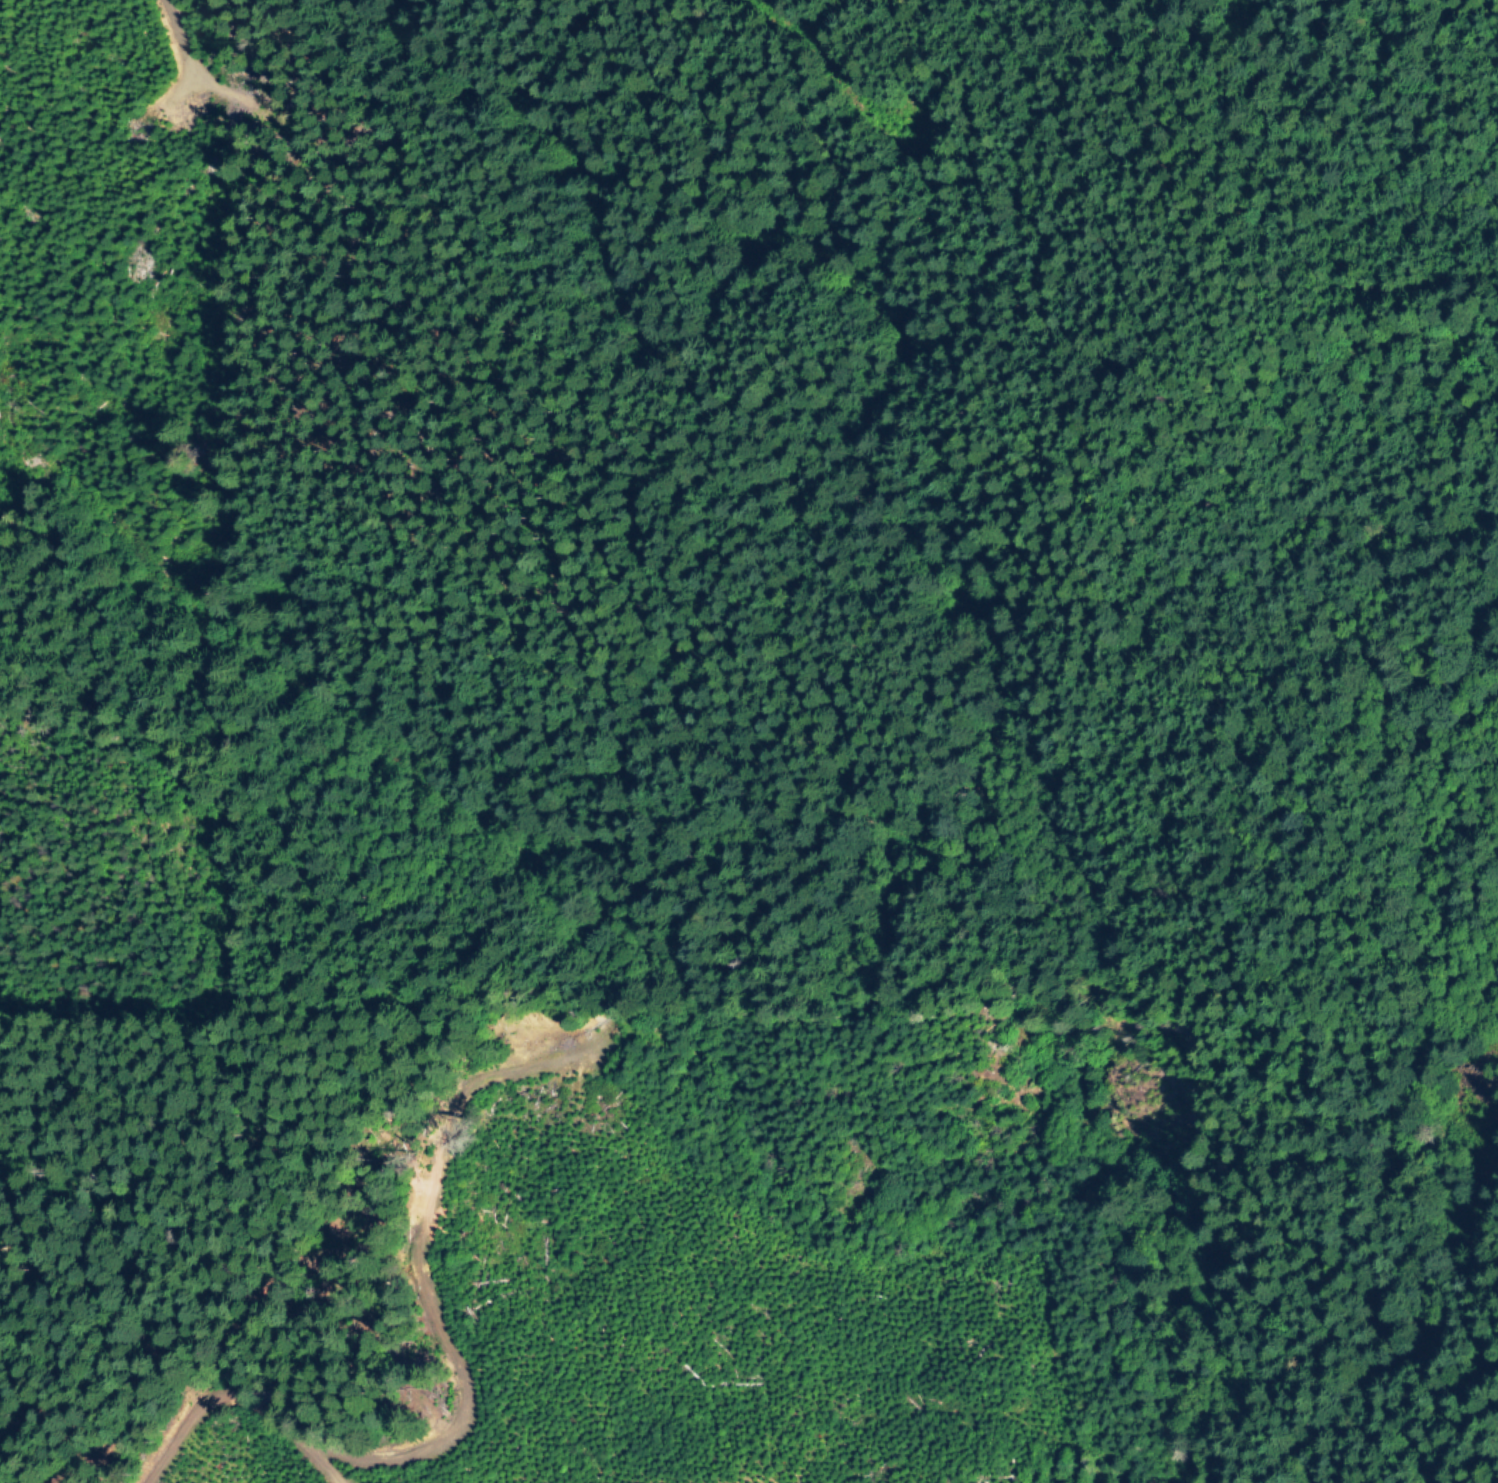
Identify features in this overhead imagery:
road: (466, 1385)

